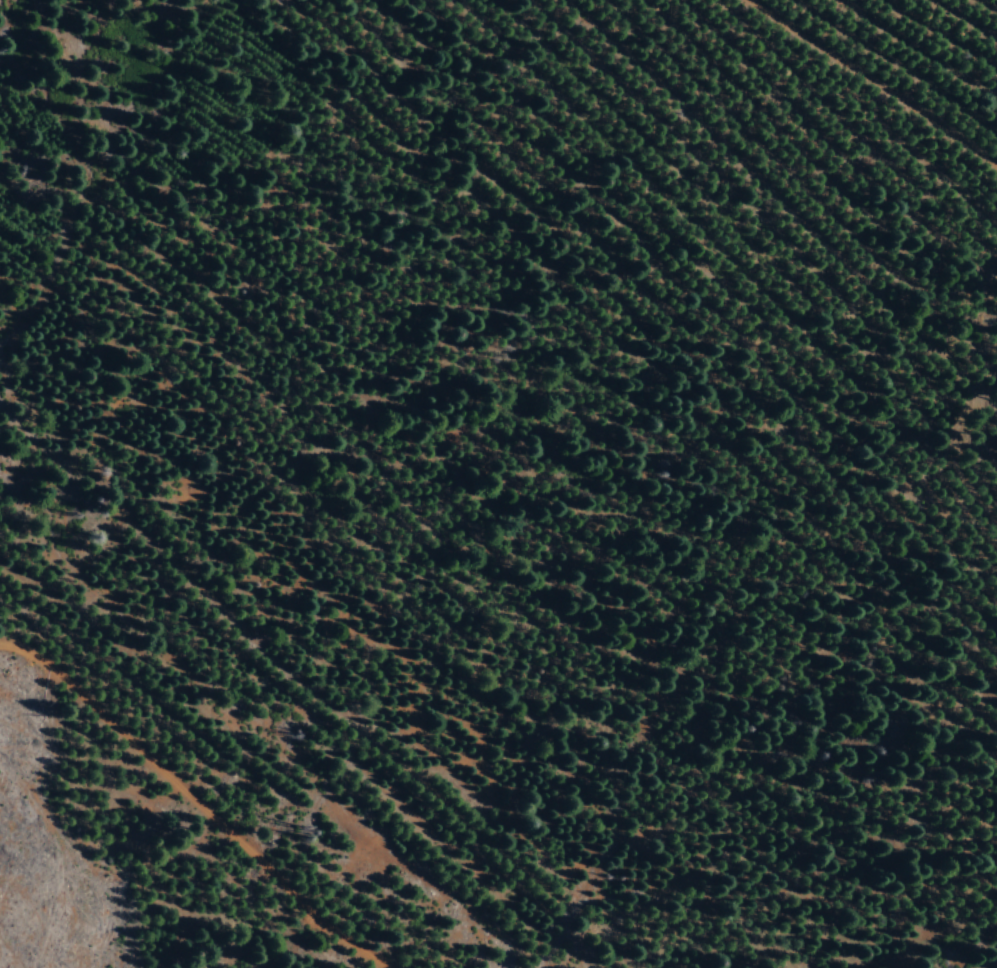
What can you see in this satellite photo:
road: (206, 800)

